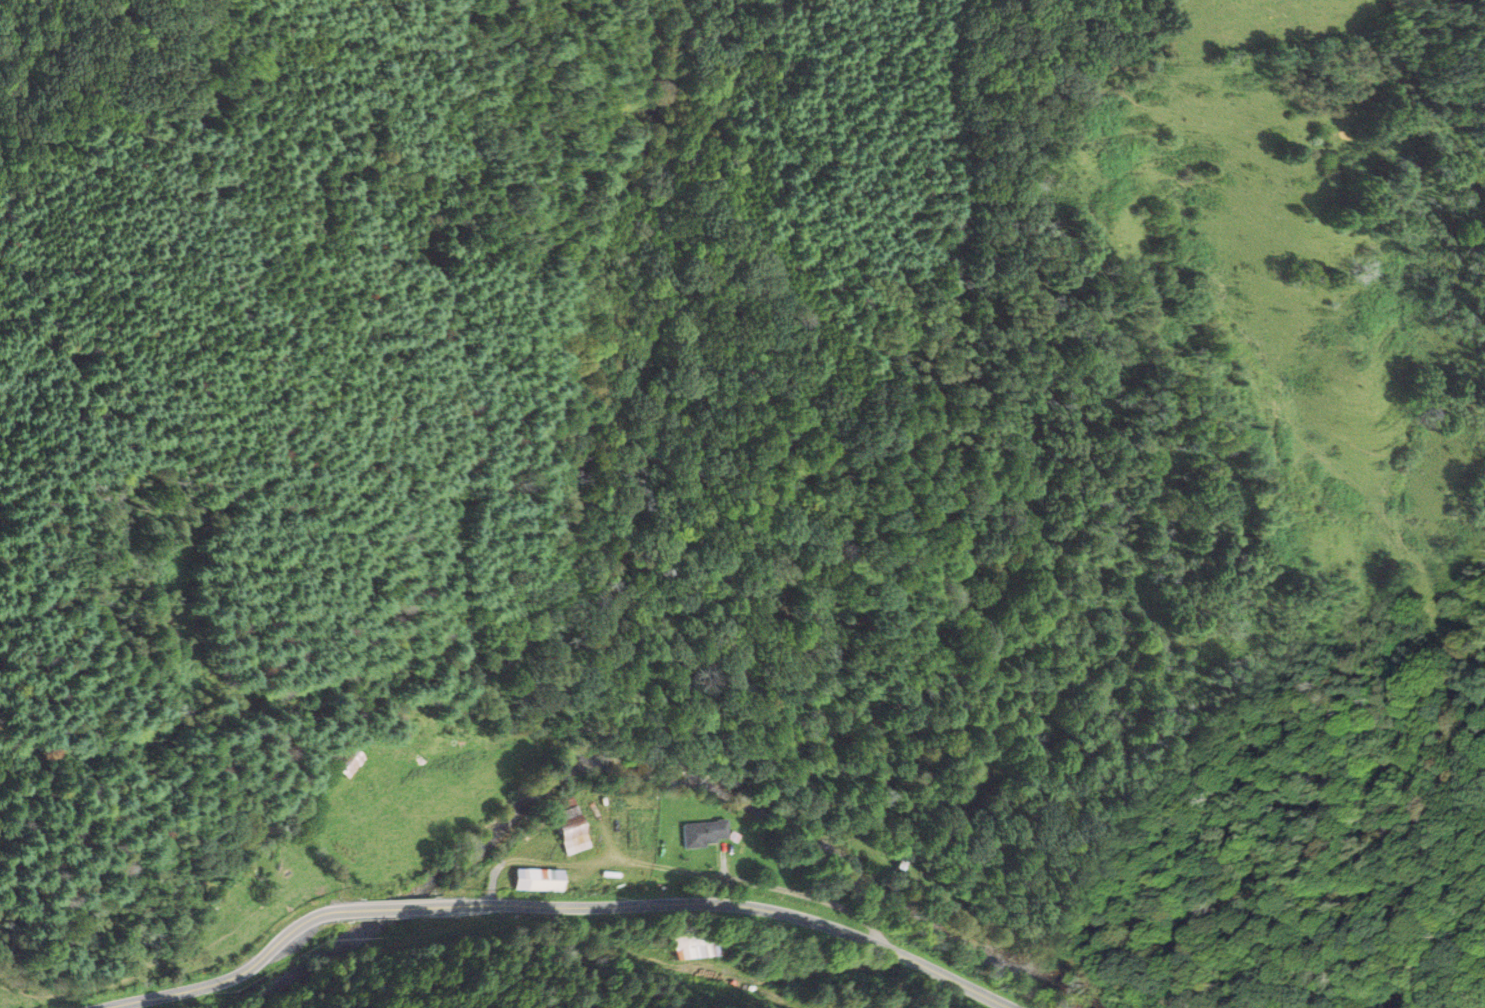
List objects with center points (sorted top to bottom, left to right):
building: (344, 762)
building: (562, 831)
building: (698, 832)
building: (281, 846)
road: (556, 902)
building: (680, 947)

